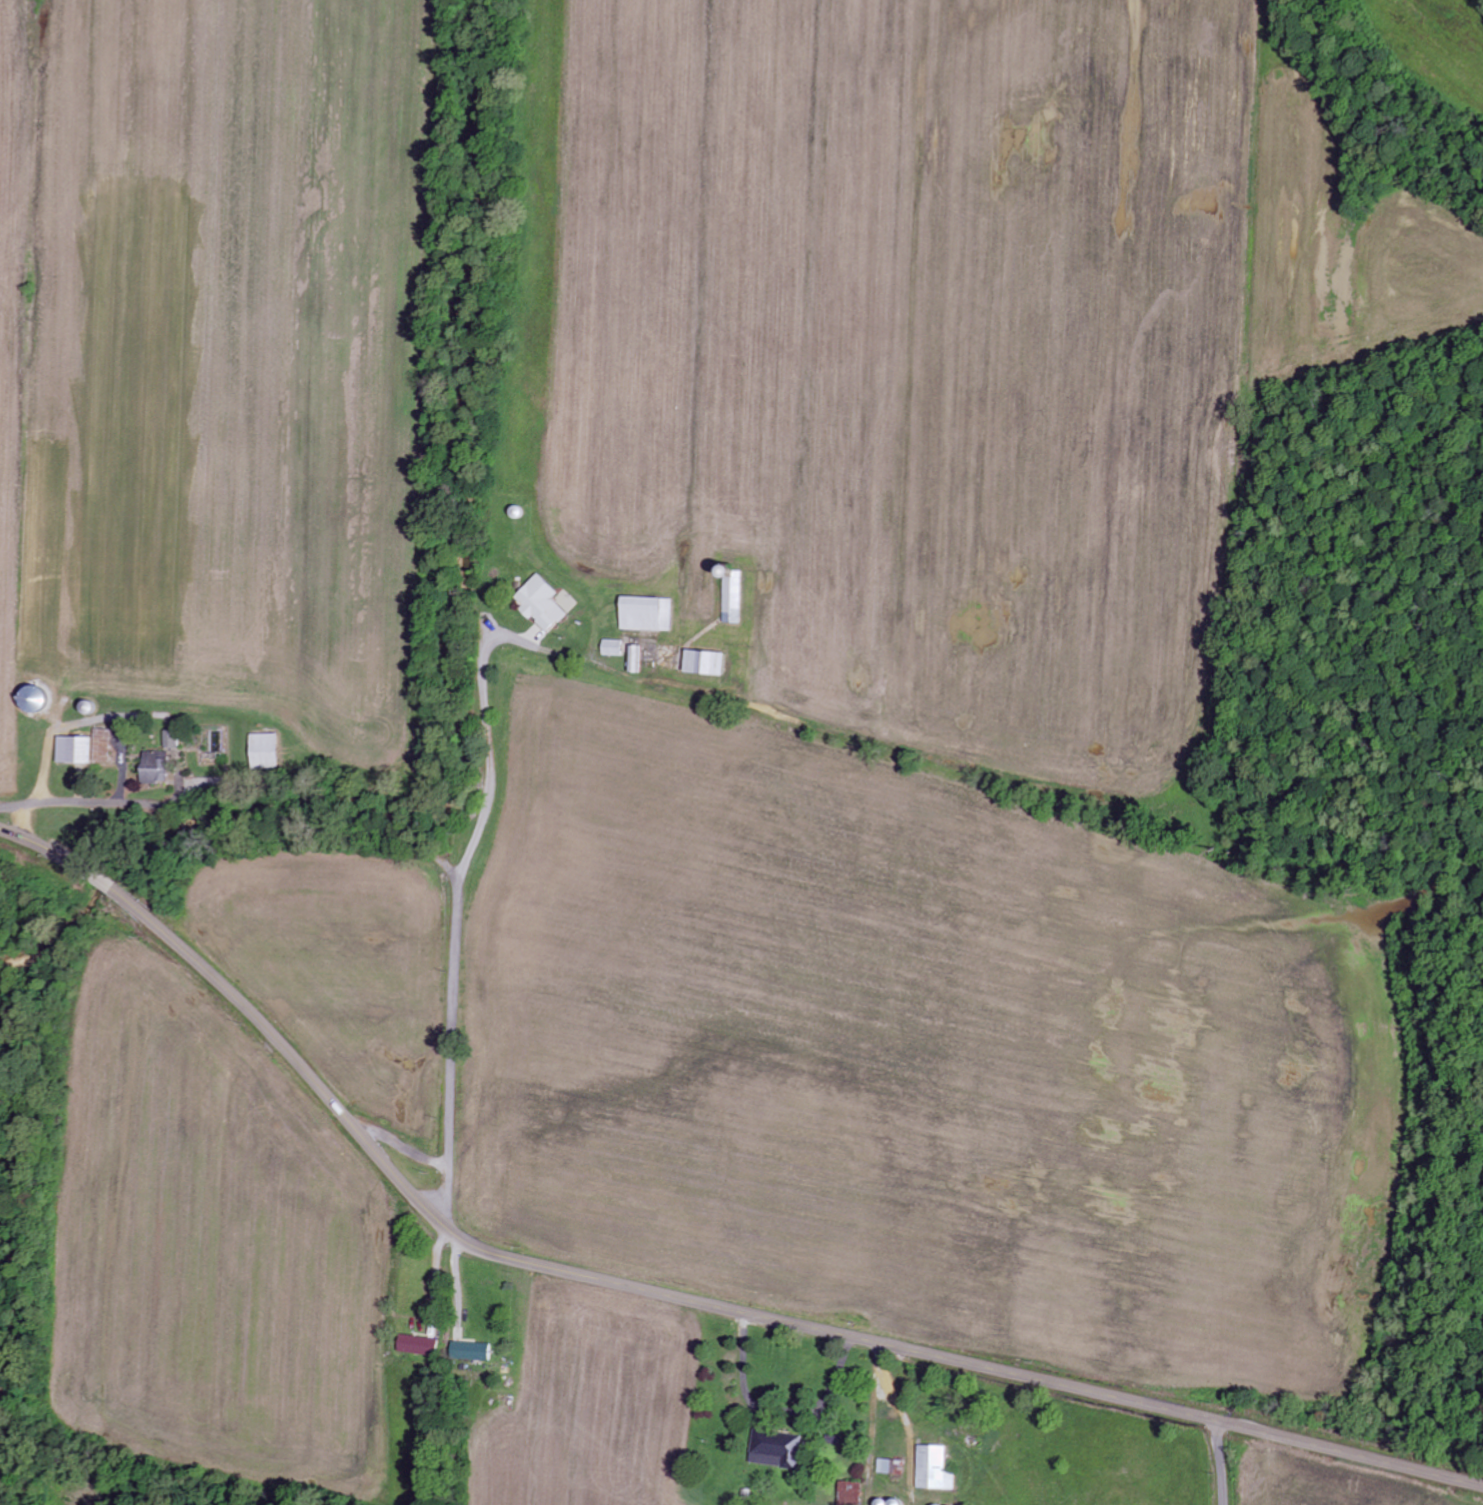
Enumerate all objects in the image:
building: (732, 599)
building: (544, 603)
building: (646, 614)
building: (612, 648)
building: (636, 659)
building: (705, 663)
building: (102, 746)
building: (73, 750)
building: (265, 751)
building: (160, 761)
road: (461, 1051)
road: (667, 1294)
building: (417, 1346)
building: (471, 1352)
building: (776, 1450)
road: (1220, 1462)
building: (890, 1467)
building: (934, 1470)
building: (851, 1494)

